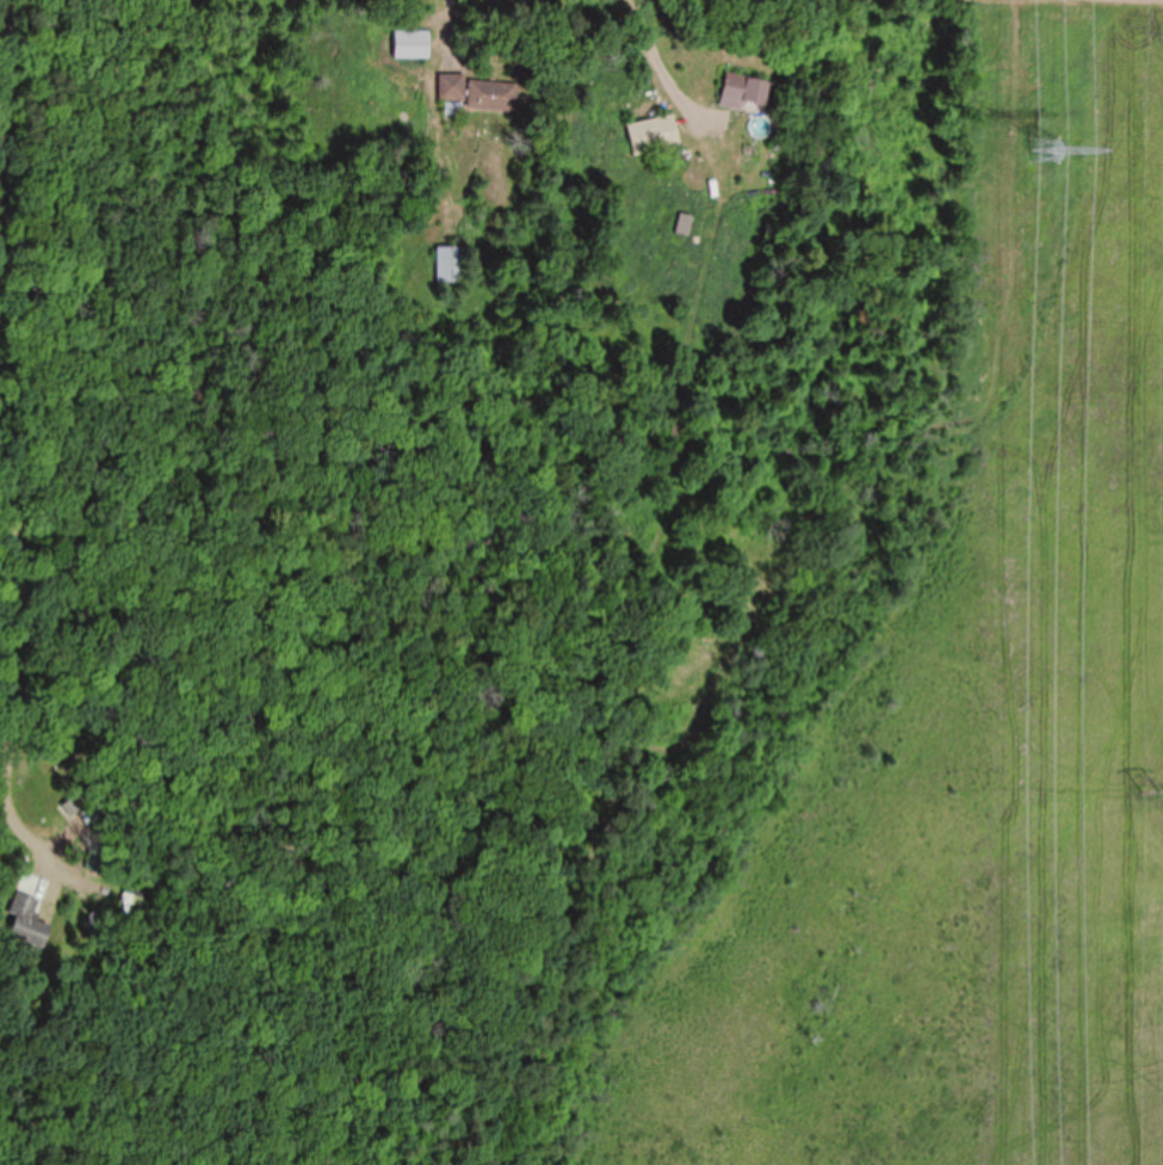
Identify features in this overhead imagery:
road: (1156, 0)
building: (410, 45)
building: (451, 87)
building: (742, 91)
building: (491, 97)
building: (651, 135)
power tower: (1046, 154)
building: (763, 224)
building: (449, 265)
road: (17, 438)
power tower: (1153, 794)
building: (92, 814)
building: (95, 863)
building: (126, 900)
building: (25, 925)

